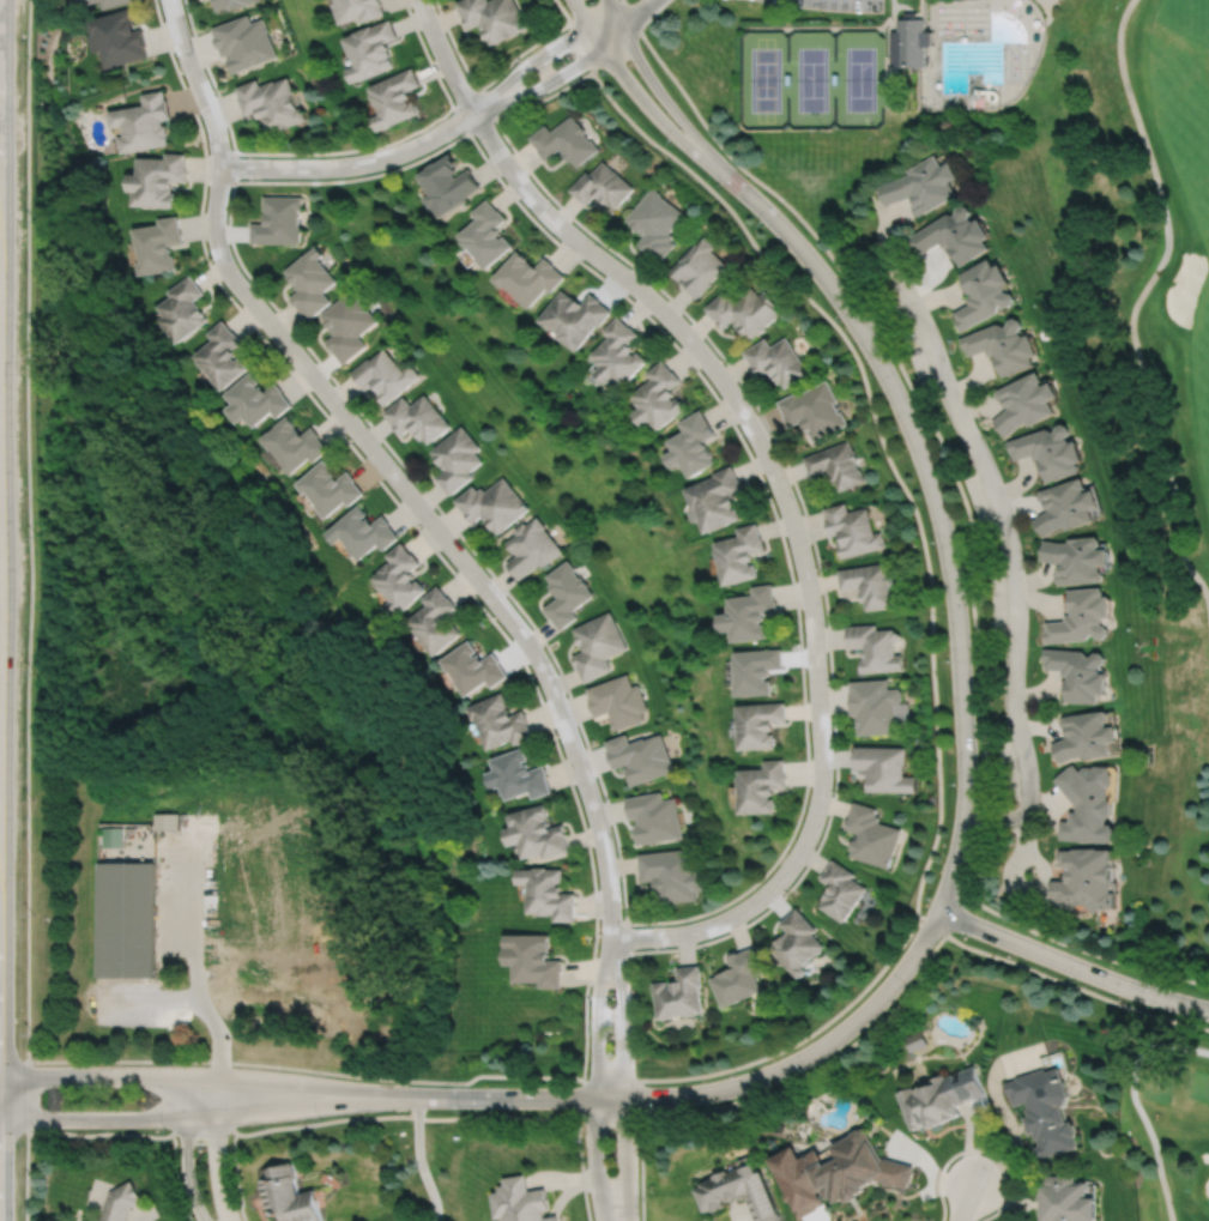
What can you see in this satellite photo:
building: (75, 0)
park: (634, 0)
building: (81, 1)
building: (111, 1)
building: (229, 2)
parking lot: (839, 4)
building: (361, 10)
road: (564, 10)
road: (596, 10)
road: (636, 11)
road: (631, 14)
building: (912, 14)
building: (492, 16)
building: (119, 35)
building: (244, 40)
building: (912, 42)
street lamp: (539, 44)
road: (582, 47)
building: (373, 48)
road: (539, 55)
road: (443, 56)
street lamp: (605, 69)
road: (554, 77)
park: (812, 78)
road: (484, 84)
street lamp: (562, 84)
road: (654, 84)
street lamp: (474, 87)
road: (480, 89)
road: (634, 89)
building: (395, 96)
building: (272, 101)
road: (452, 105)
road: (491, 115)
road: (495, 116)
building: (144, 120)
building: (564, 139)
street lamp: (206, 141)
street lamp: (671, 141)
road: (326, 152)
road: (352, 163)
road: (231, 165)
building: (157, 177)
building: (448, 182)
building: (924, 183)
building: (602, 185)
building: (279, 218)
building: (653, 222)
street lamp: (761, 224)
building: (486, 234)
building: (953, 234)
building: (158, 243)
building: (697, 265)
building: (530, 276)
building: (310, 280)
road: (900, 284)
park: (1143, 285)
building: (983, 291)
road: (1136, 300)
building: (182, 308)
building: (744, 309)
building: (575, 315)
street lamp: (839, 318)
building: (346, 324)
building: (1002, 345)
building: (618, 352)
building: (220, 355)
parking lot: (917, 355)
building: (776, 359)
building: (383, 375)
building: (659, 397)
building: (254, 399)
building: (1023, 401)
building: (812, 410)
building: (417, 417)
road: (929, 419)
street lamp: (897, 425)
street lamp: (346, 436)
building: (292, 442)
building: (694, 443)
road: (883, 445)
building: (1050, 451)
building: (457, 459)
building: (836, 464)
road: (386, 466)
building: (327, 488)
building: (717, 498)
road: (936, 502)
road: (800, 503)
parking lot: (979, 503)
building: (492, 504)
building: (1065, 506)
road: (415, 524)
road: (26, 528)
building: (852, 530)
building: (361, 532)
road: (796, 534)
street lamp: (932, 540)
building: (531, 548)
building: (740, 554)
building: (1076, 560)
building: (399, 580)
road: (1014, 582)
building: (868, 585)
building: (566, 593)
parking lot: (997, 606)
building: (750, 613)
building: (1081, 617)
building: (435, 622)
building: (598, 646)
building: (875, 647)
street lamp: (948, 660)
building: (473, 667)
building: (758, 670)
building: (1078, 673)
building: (618, 701)
building: (873, 706)
building: (500, 721)
building: (761, 724)
street lamp: (554, 731)
building: (1086, 738)
building: (641, 757)
parking lot: (1008, 768)
building: (883, 769)
building: (518, 776)
street lamp: (954, 784)
building: (763, 787)
building: (1088, 804)
building: (654, 818)
building: (167, 821)
building: (537, 834)
building: (108, 835)
building: (870, 836)
road: (787, 839)
street lamp: (814, 844)
building: (671, 874)
building: (1086, 878)
park: (1208, 880)
road: (1020, 889)
building: (841, 890)
building: (549, 893)
street lamp: (931, 895)
road: (191, 896)
road: (953, 911)
building: (125, 915)
road: (930, 924)
street lamp: (967, 935)
street lamp: (598, 937)
building: (797, 941)
road: (1083, 949)
road: (609, 955)
building: (532, 956)
road: (1071, 963)
building: (739, 974)
street lamp: (1075, 979)
street lamp: (1154, 981)
street lamp: (906, 985)
road: (1074, 985)
building: (679, 992)
road: (149, 1003)
road: (597, 1015)
road: (622, 1015)
street lamp: (633, 1028)
street lamp: (587, 1029)
road: (219, 1036)
road: (800, 1039)
building: (915, 1039)
street lamp: (35, 1063)
street lamp: (175, 1063)
road: (820, 1065)
road: (308, 1069)
street lamp: (806, 1069)
street lamp: (737, 1070)
street lamp: (319, 1074)
road: (199, 1075)
road: (610, 1080)
street lamp: (460, 1084)
road: (706, 1090)
road: (28, 1093)
building: (935, 1099)
road: (1135, 1102)
street lamp: (658, 1108)
building: (1045, 1108)
street lamp: (460, 1111)
road: (609, 1111)
street lamp: (318, 1116)
road: (401, 1116)
road: (199, 1117)
park: (1167, 1123)
road: (16, 1126)
street lamp: (164, 1128)
street lamp: (35, 1129)
road: (201, 1129)
road: (101, 1132)
building: (455, 1136)
street lamp: (580, 1138)
road: (214, 1148)
road: (186, 1149)
park: (424, 1159)
road: (624, 1159)
road: (418, 1160)
road: (596, 1160)
road: (641, 1165)
road: (580, 1167)
building: (838, 1171)
road: (939, 1171)
road: (25, 1175)
road: (236, 1175)
road: (176, 1178)
building: (740, 1189)
building: (290, 1193)
road: (1007, 1195)
building: (1068, 1198)
building: (521, 1201)
road: (965, 1201)
building: (122, 1202)

